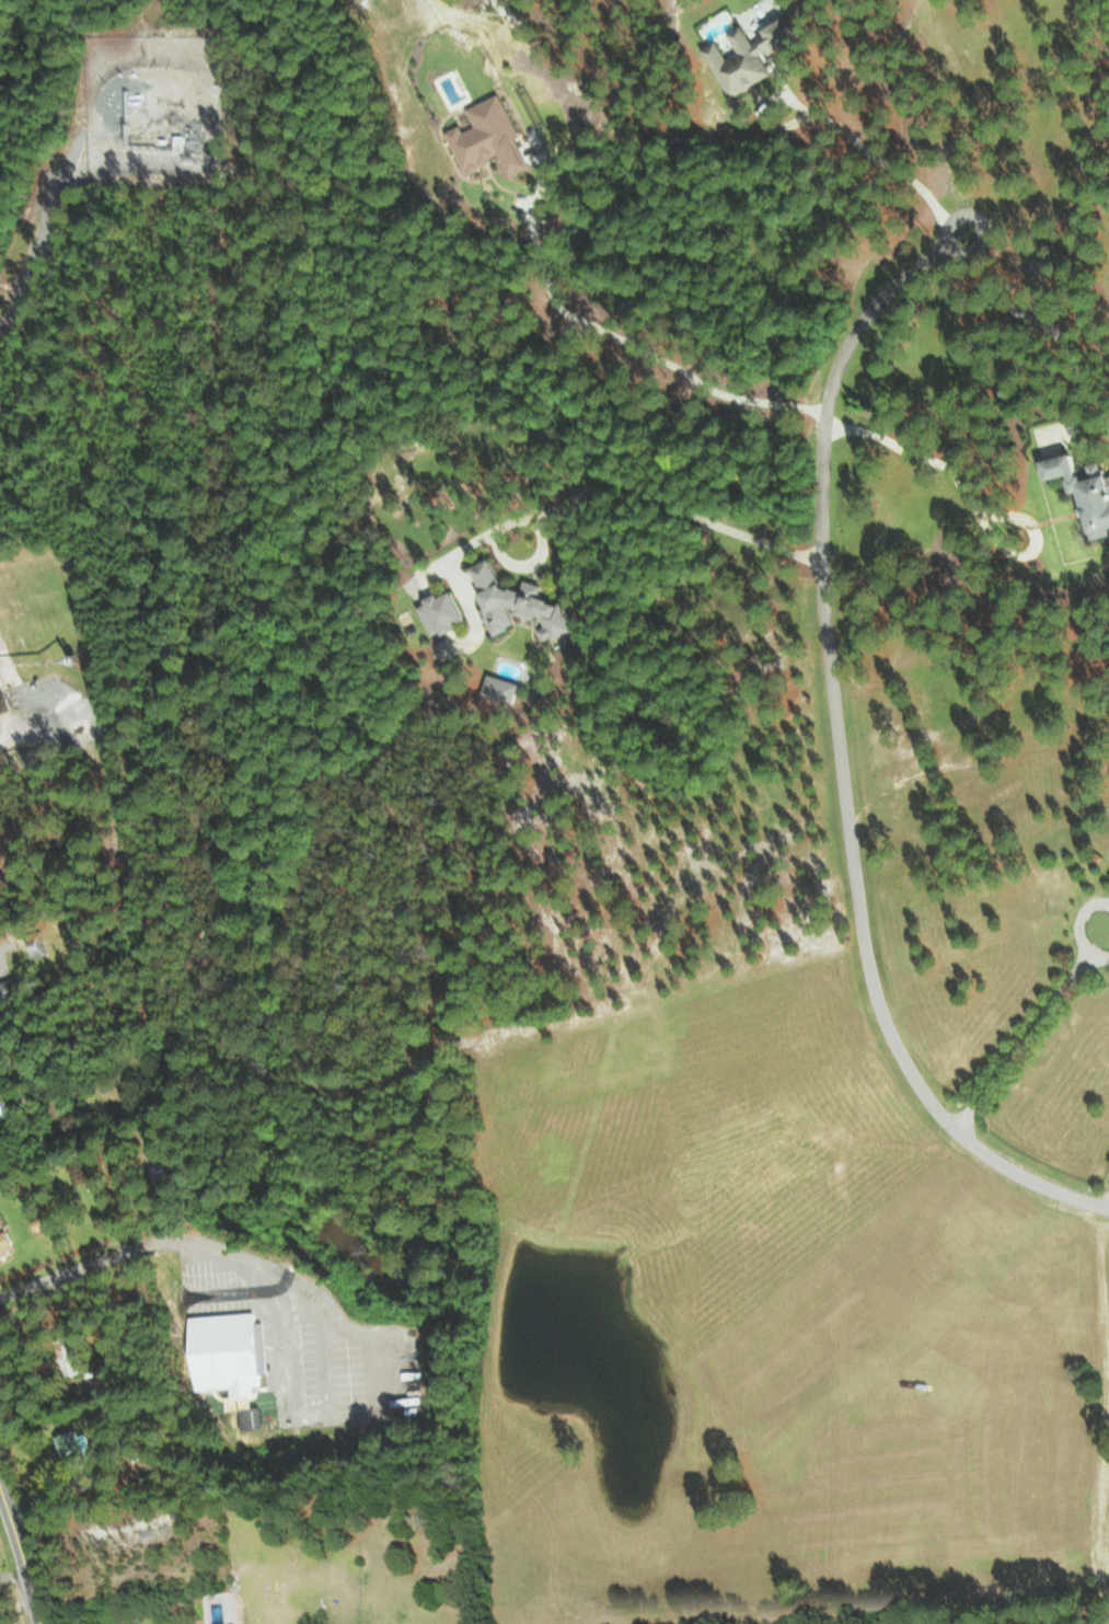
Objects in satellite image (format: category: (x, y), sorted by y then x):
building: (357, 1)
building: (739, 55)
building: (483, 137)
building: (1079, 493)
road: (972, 504)
building: (508, 602)
building: (435, 613)
building: (495, 689)
road: (839, 748)
building: (1107, 884)
building: (37, 943)
building: (10, 990)
road: (1030, 1029)
building: (3, 1107)
building: (5, 1242)
building: (229, 1351)
building: (72, 1360)
building: (249, 1417)
road: (23, 1555)
building: (137, 1623)

